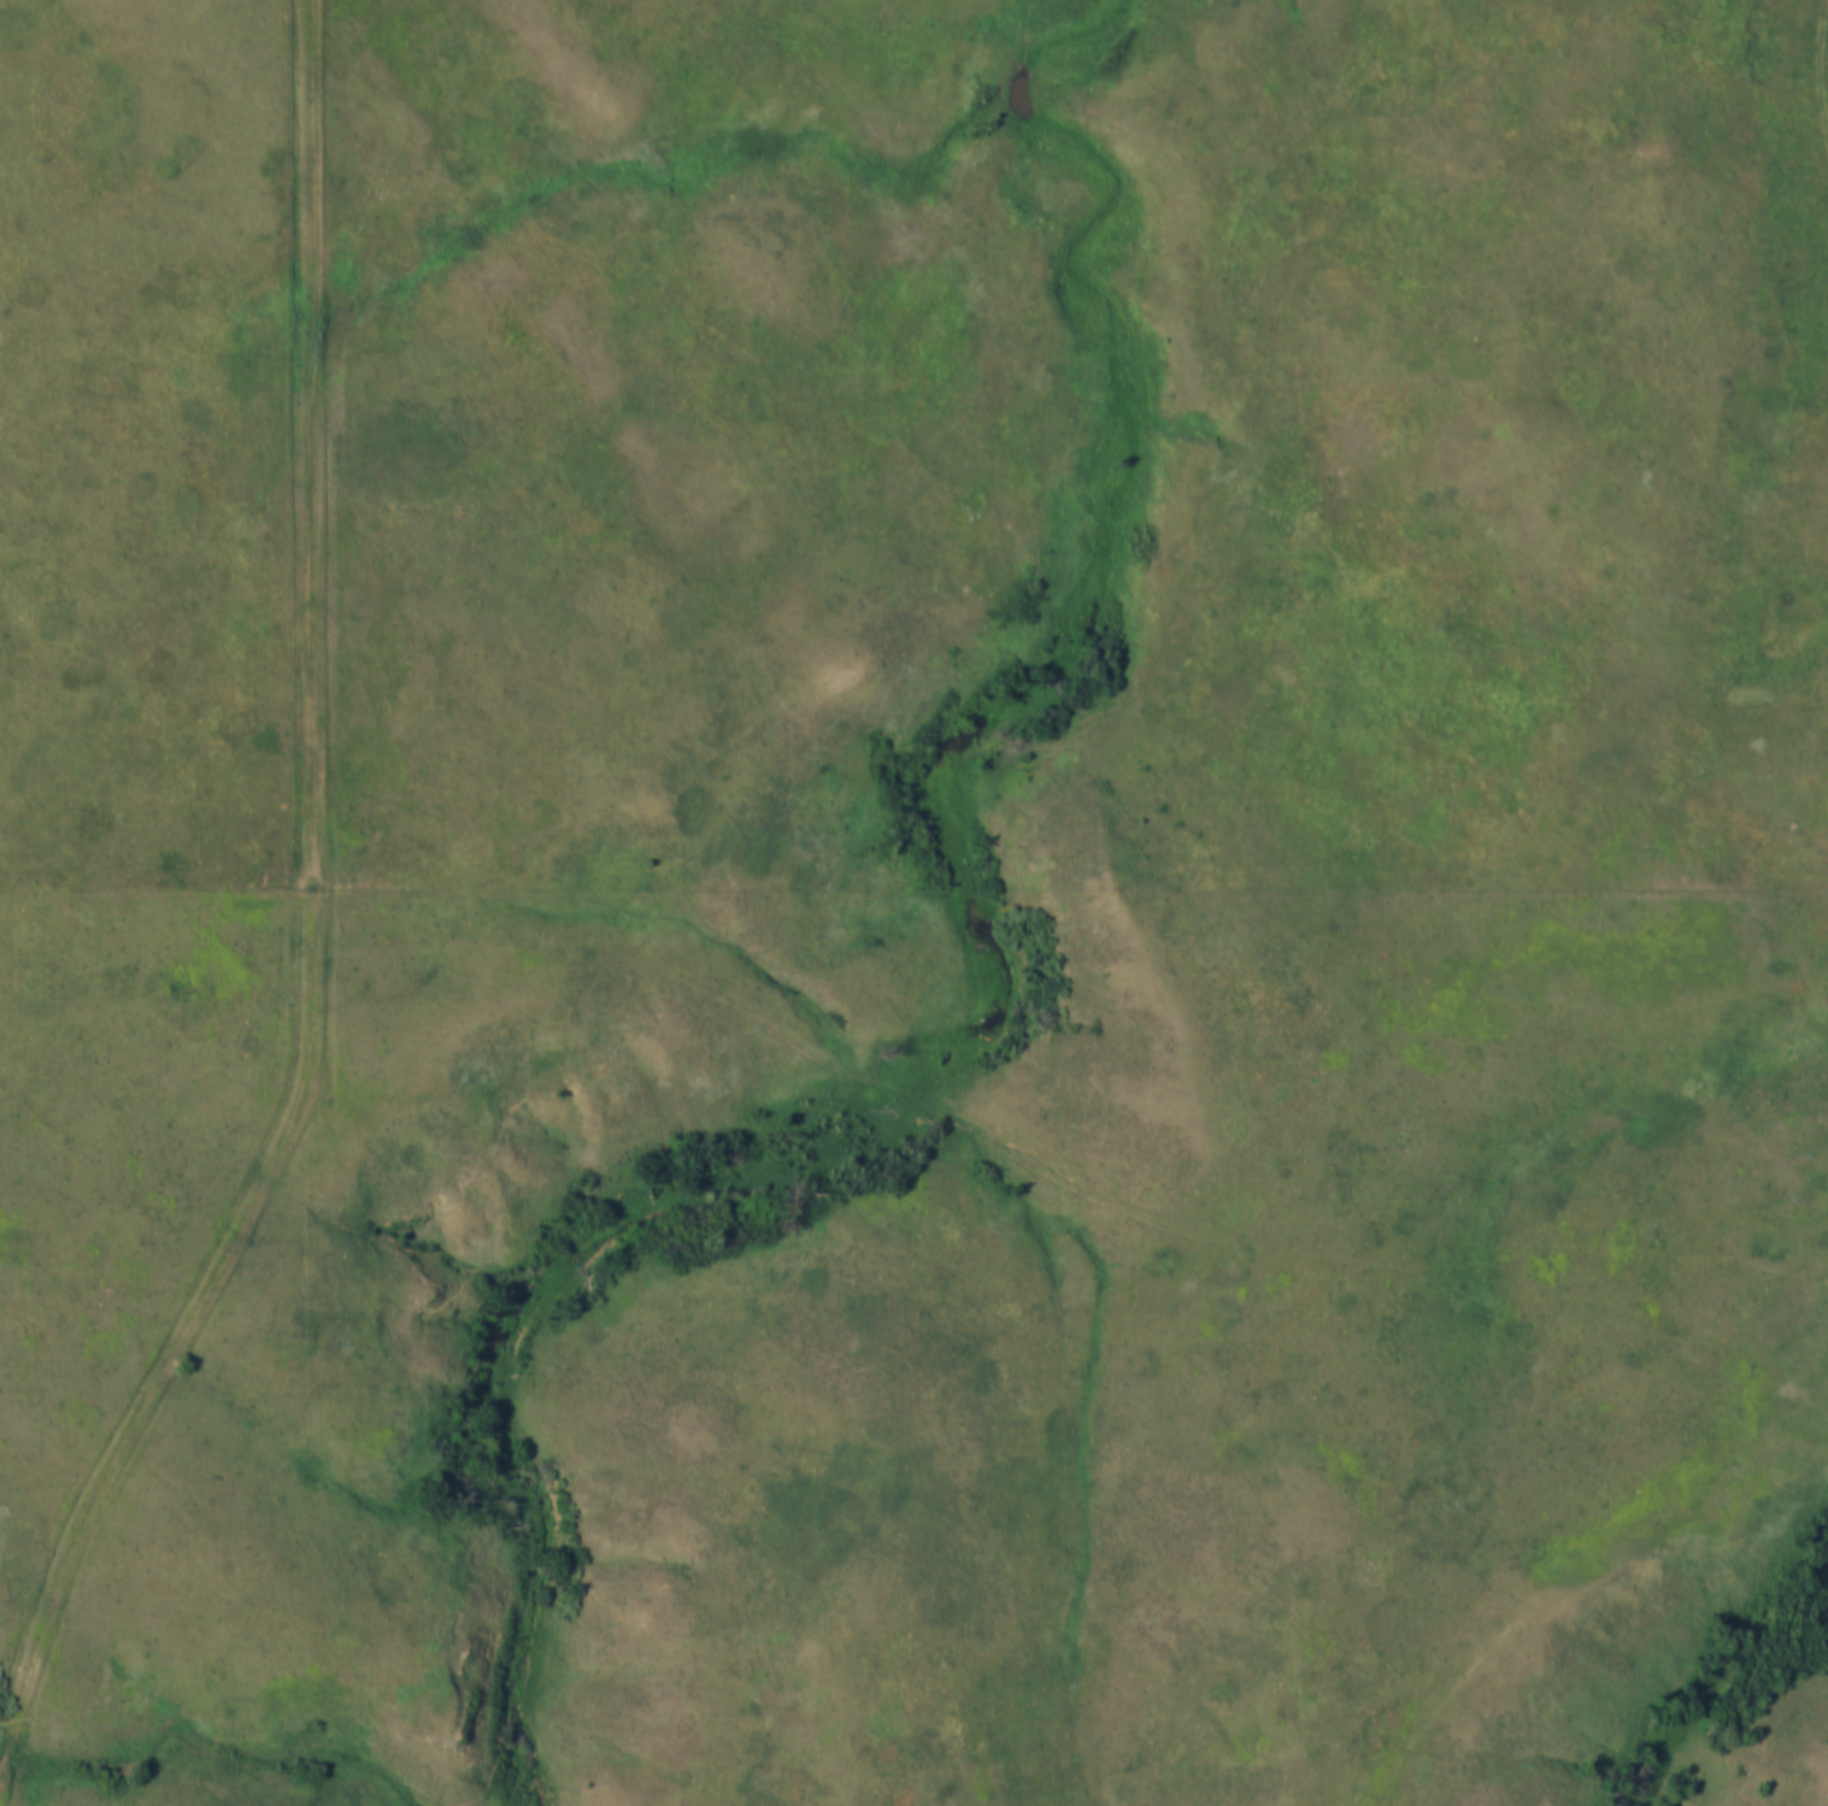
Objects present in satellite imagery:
road: (315, 924)
road: (1567, 1564)

